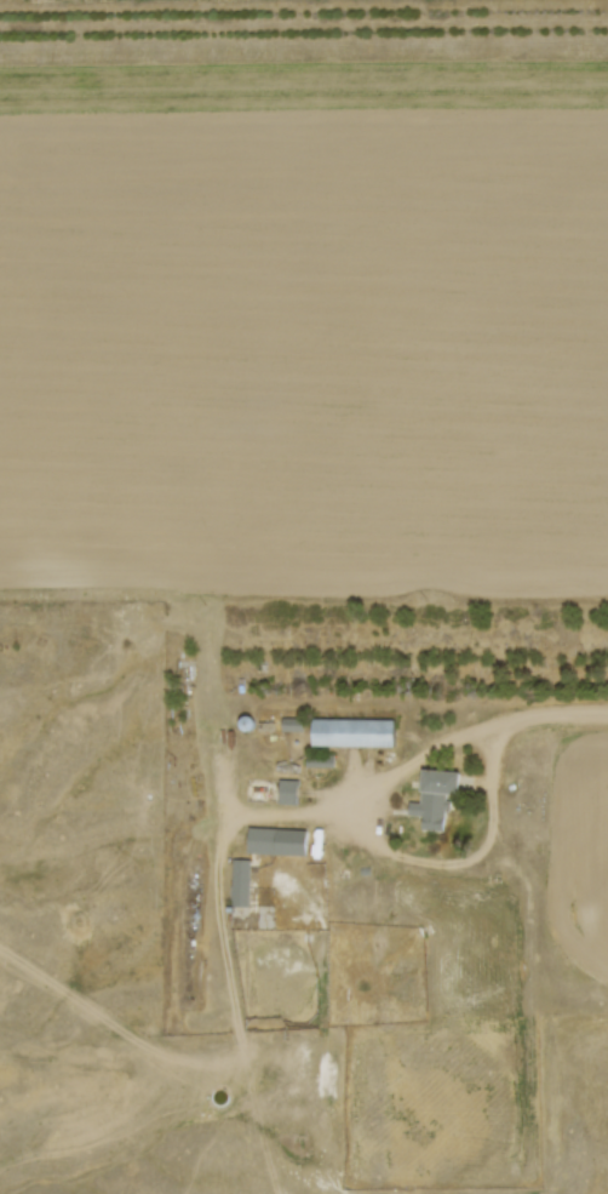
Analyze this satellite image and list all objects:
crop: (305, 320)
building: (241, 721)
silo: (241, 721)
building: (289, 722)
building: (349, 731)
road: (463, 733)
building: (316, 759)
road: (486, 765)
building: (285, 790)
building: (429, 795)
building: (275, 839)
road: (366, 839)
crop: (577, 849)
building: (236, 880)

